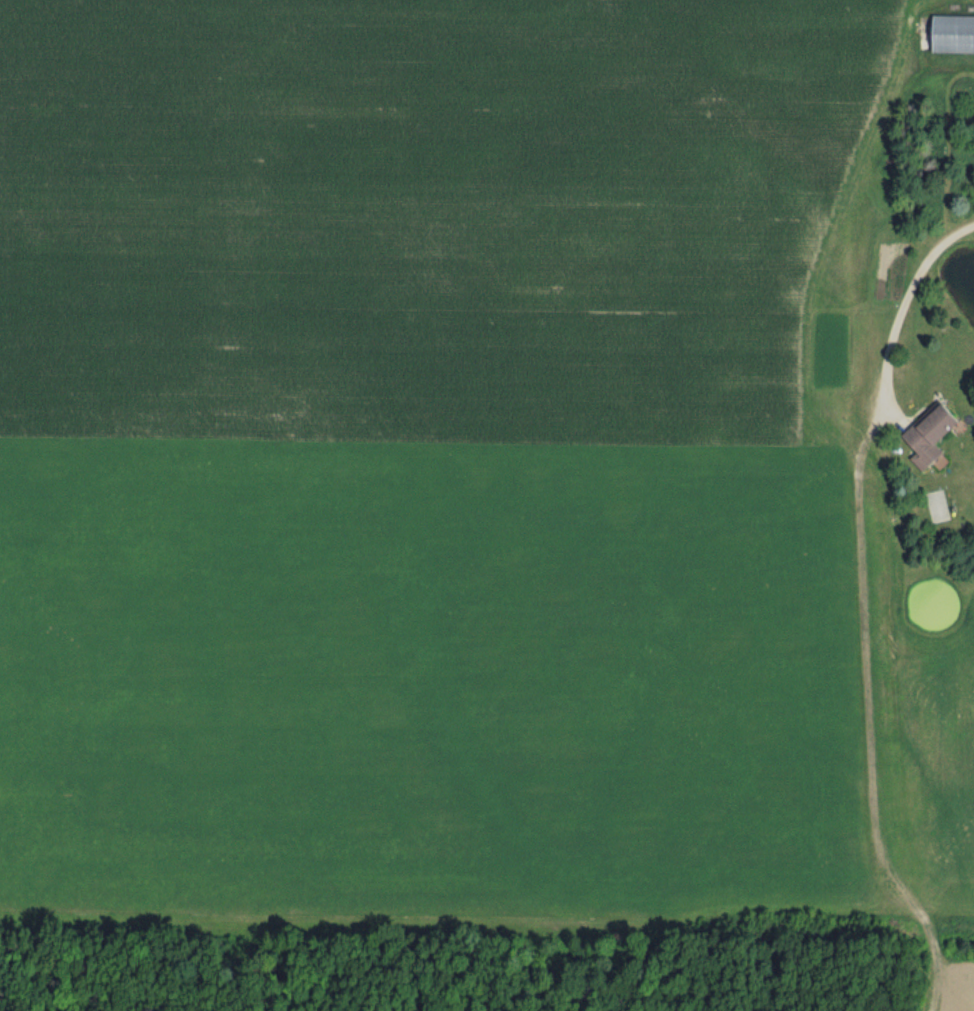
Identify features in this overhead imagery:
building: (956, 33)
road: (899, 305)
building: (935, 434)

